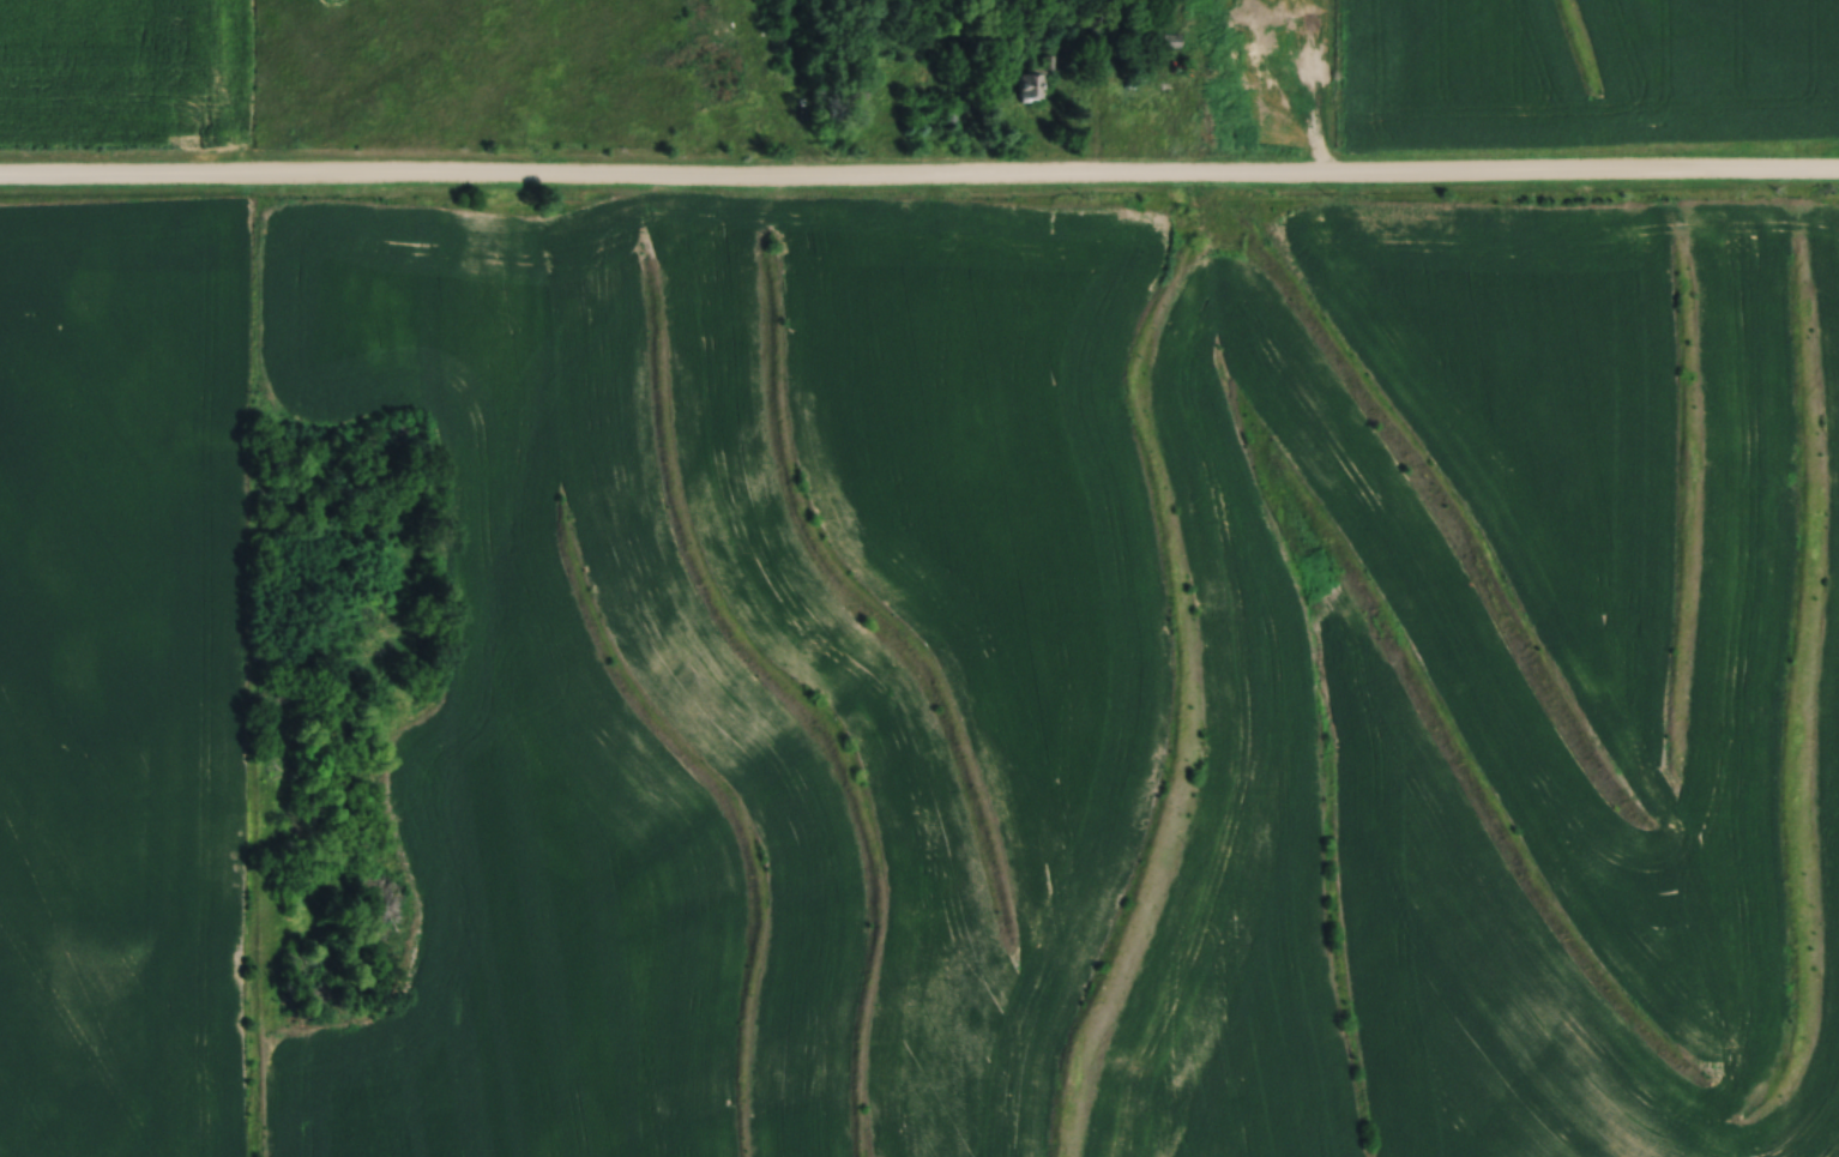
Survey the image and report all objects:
building: (1176, 40)
building: (1035, 88)
road: (918, 181)

